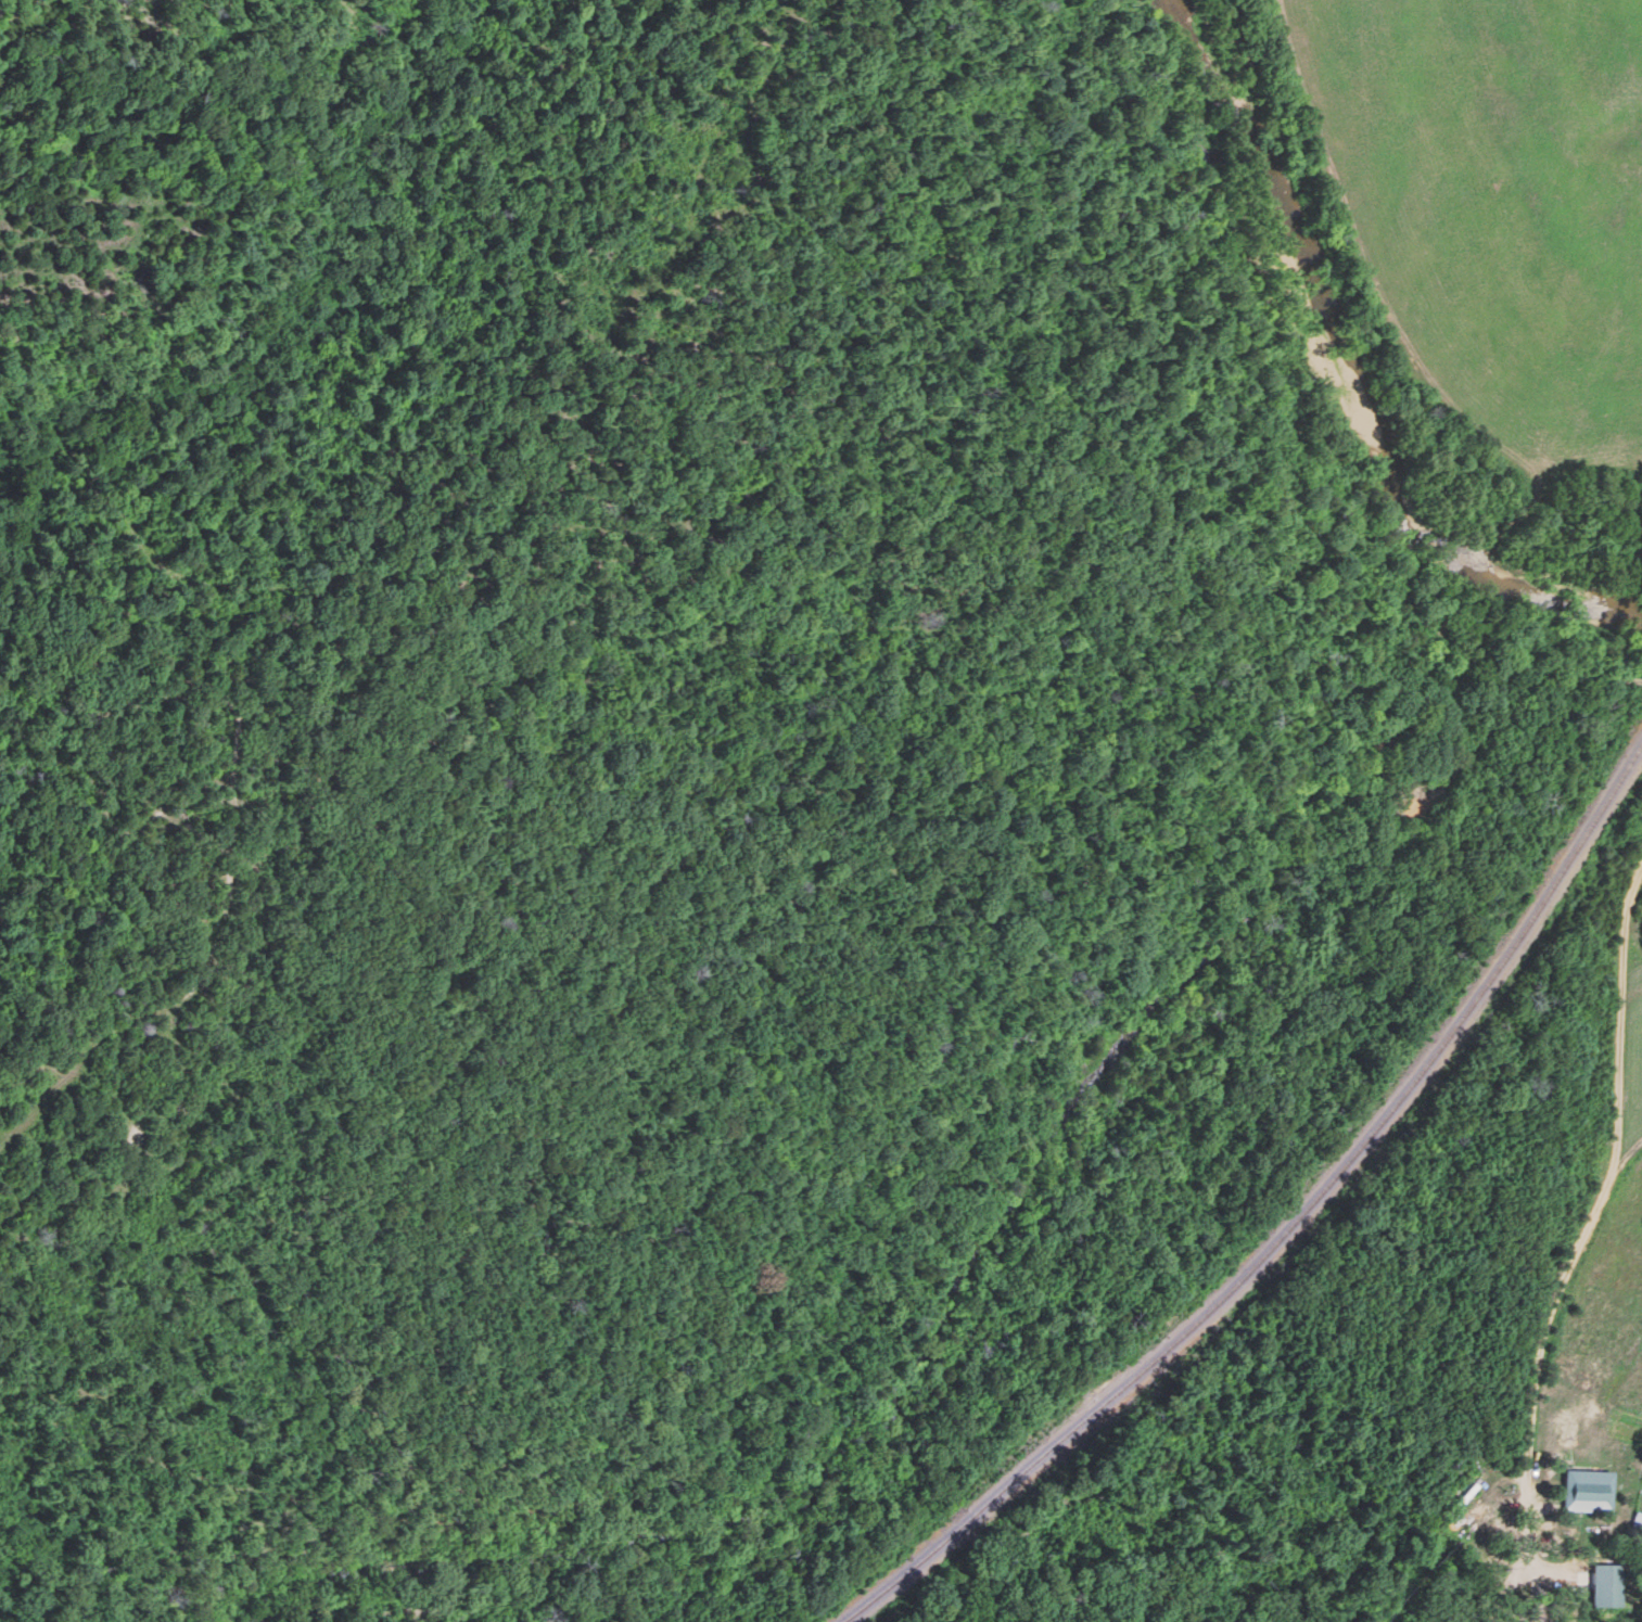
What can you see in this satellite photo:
road: (1523, 705)
road: (1603, 1185)
railway: (1293, 1227)
building: (1588, 1492)
road: (1449, 1550)

